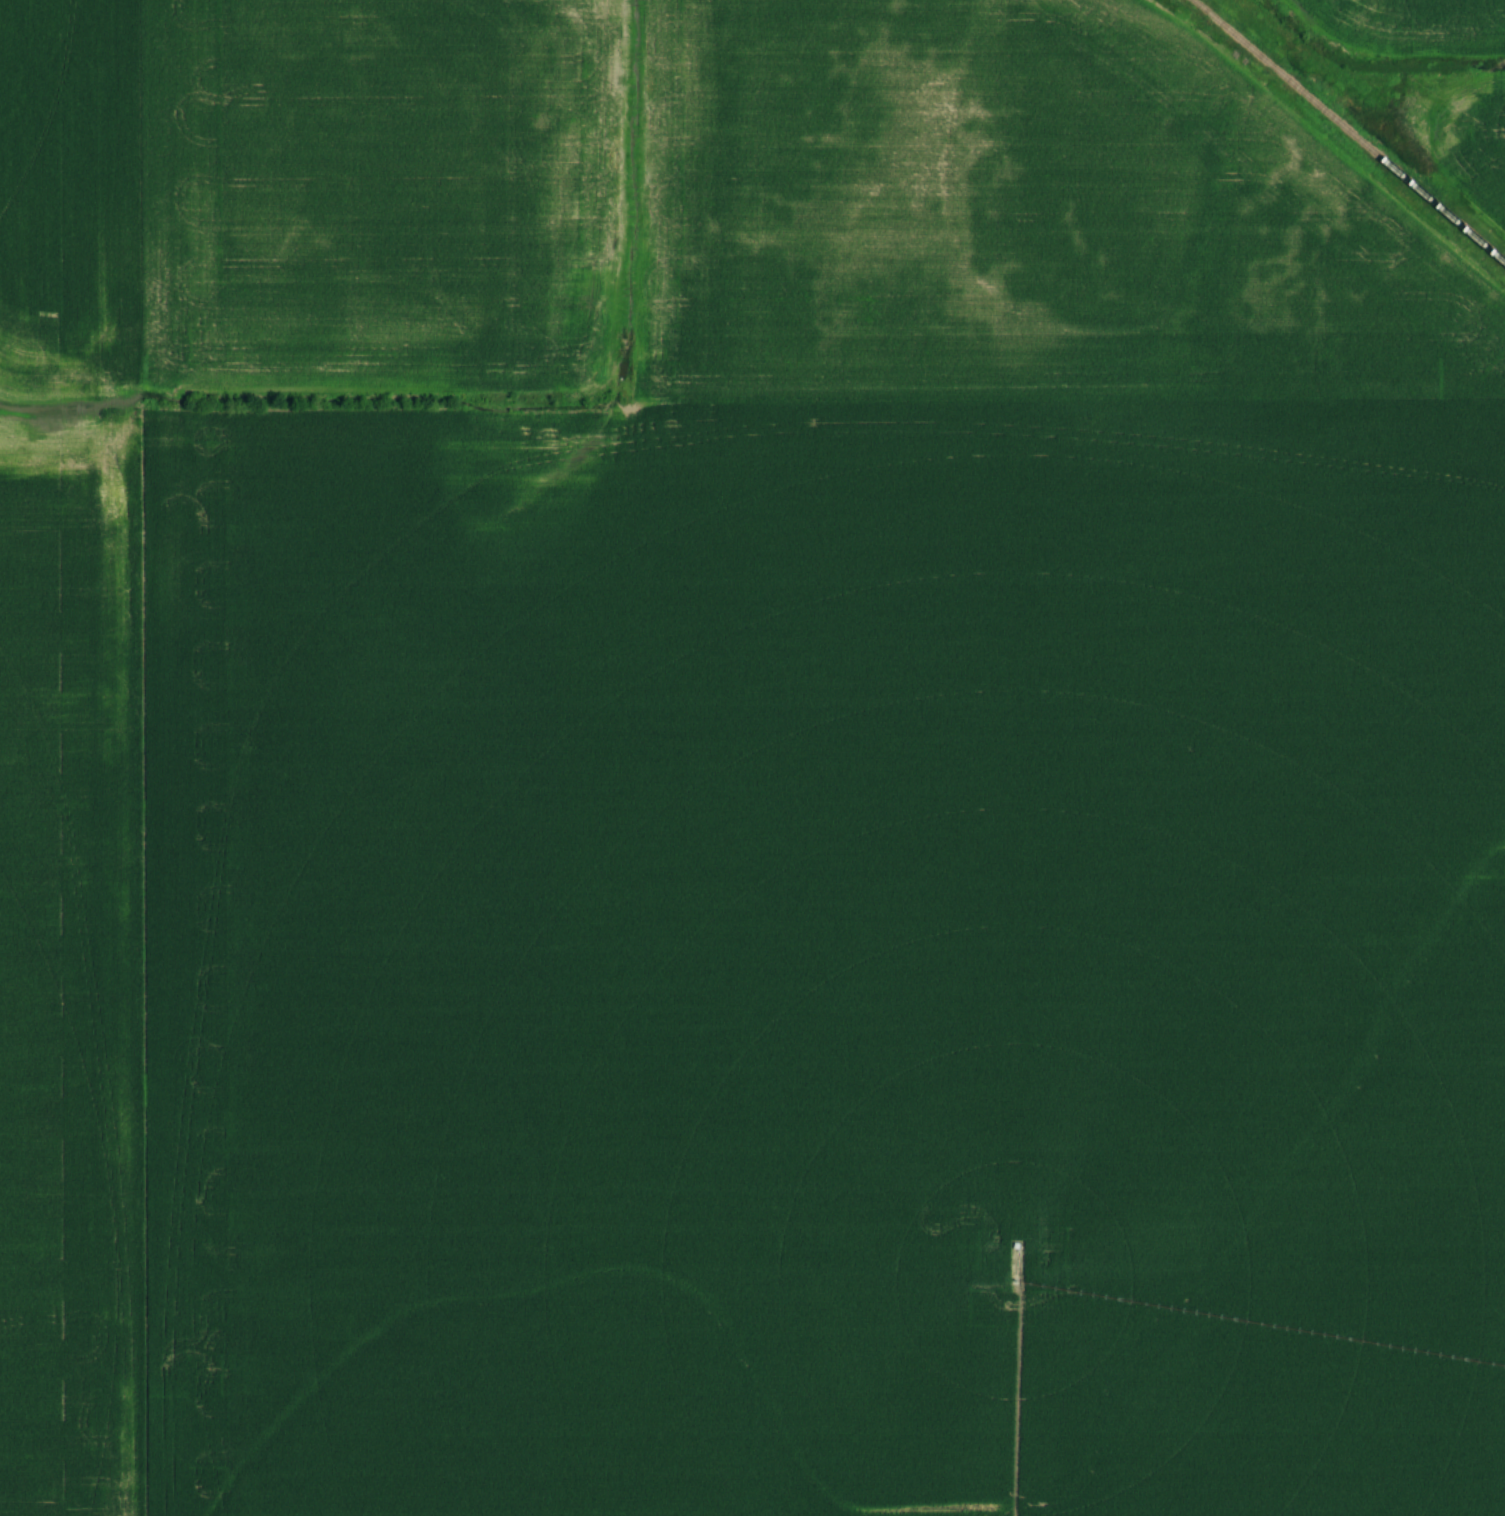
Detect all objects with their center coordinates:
railway: (1352, 130)

